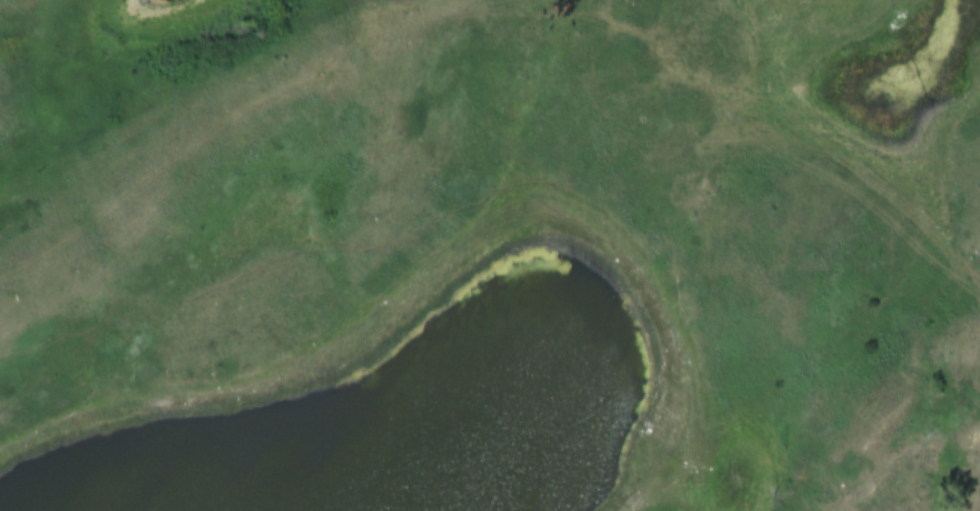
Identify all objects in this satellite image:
road: (904, 207)

